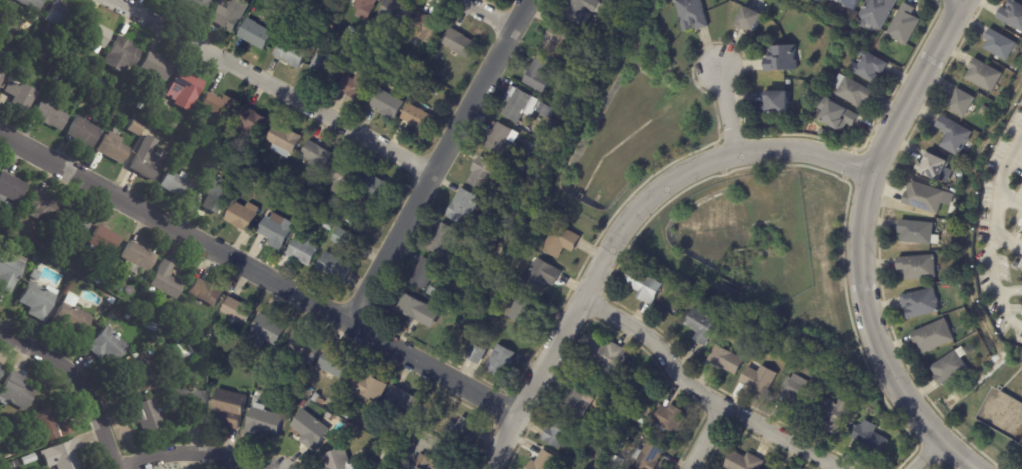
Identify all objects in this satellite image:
building: (169, 0)
building: (380, 0)
road: (961, 0)
building: (32, 4)
building: (851, 4)
building: (196, 5)
building: (366, 8)
building: (395, 10)
building: (581, 10)
building: (878, 13)
road: (482, 14)
building: (693, 14)
building: (1013, 14)
building: (60, 16)
building: (752, 16)
building: (228, 17)
building: (904, 24)
building: (323, 25)
building: (426, 29)
building: (353, 31)
building: (94, 33)
building: (255, 34)
building: (370, 36)
building: (558, 41)
building: (460, 43)
building: (625, 44)
building: (1001, 44)
building: (36, 45)
building: (291, 50)
building: (14, 54)
building: (122, 55)
building: (783, 58)
building: (871, 66)
building: (6, 67)
building: (156, 67)
building: (325, 71)
building: (539, 74)
building: (985, 75)
building: (56, 76)
building: (1, 77)
building: (86, 78)
building: (98, 82)
building: (789, 82)
road: (269, 86)
building: (358, 86)
building: (20, 90)
building: (185, 90)
building: (856, 91)
building: (777, 102)
building: (962, 103)
building: (387, 104)
building: (219, 105)
building: (524, 105)
building: (140, 106)
building: (986, 109)
road: (724, 112)
building: (51, 115)
building: (839, 116)
building: (420, 117)
building: (142, 120)
building: (253, 121)
building: (133, 126)
building: (140, 129)
building: (83, 132)
building: (824, 132)
building: (831, 134)
building: (955, 135)
building: (284, 139)
building: (502, 140)
building: (95, 146)
building: (113, 148)
building: (316, 156)
road: (436, 159)
building: (147, 166)
building: (520, 167)
building: (938, 168)
building: (483, 173)
building: (345, 178)
building: (178, 185)
building: (11, 188)
building: (377, 190)
building: (216, 195)
road: (1010, 197)
building: (927, 198)
building: (9, 207)
building: (42, 207)
building: (464, 207)
building: (243, 216)
building: (350, 220)
building: (78, 223)
road: (619, 224)
building: (329, 226)
building: (276, 230)
building: (918, 232)
road: (992, 232)
building: (344, 238)
road: (1007, 240)
building: (444, 241)
building: (562, 241)
building: (103, 242)
road: (859, 247)
building: (303, 251)
building: (137, 258)
building: (465, 266)
building: (334, 268)
building: (918, 268)
building: (10, 270)
road: (257, 270)
building: (425, 274)
building: (543, 275)
building: (35, 276)
building: (97, 281)
building: (166, 281)
building: (645, 286)
building: (448, 287)
building: (676, 289)
building: (206, 293)
building: (38, 300)
building: (110, 301)
building: (921, 303)
building: (629, 307)
building: (525, 309)
building: (421, 311)
building: (238, 313)
building: (127, 317)
building: (71, 318)
building: (733, 322)
building: (703, 326)
building: (190, 329)
building: (268, 331)
building: (209, 335)
building: (934, 337)
building: (107, 346)
building: (304, 347)
building: (152, 350)
building: (135, 355)
building: (478, 355)
building: (608, 355)
building: (267, 360)
building: (727, 360)
building: (502, 362)
building: (338, 364)
building: (952, 367)
building: (1, 370)
building: (140, 379)
building: (760, 379)
road: (81, 380)
building: (369, 387)
building: (15, 391)
building: (800, 393)
building: (297, 396)
road: (699, 396)
building: (316, 398)
building: (403, 402)
building: (578, 402)
building: (302, 403)
building: (191, 404)
building: (230, 408)
building: (833, 414)
building: (347, 415)
building: (146, 416)
building: (671, 418)
building: (642, 420)
building: (597, 421)
building: (263, 422)
building: (50, 427)
building: (310, 430)
building: (463, 430)
building: (590, 431)
building: (560, 432)
road: (702, 439)
building: (871, 441)
road: (185, 449)
building: (16, 451)
road: (411, 453)
building: (386, 455)
road: (924, 455)
building: (61, 456)
building: (649, 456)
building: (616, 457)
building: (27, 460)
building: (340, 461)
building: (543, 461)
building: (621, 461)
building: (744, 461)
building: (433, 464)
building: (10, 465)

